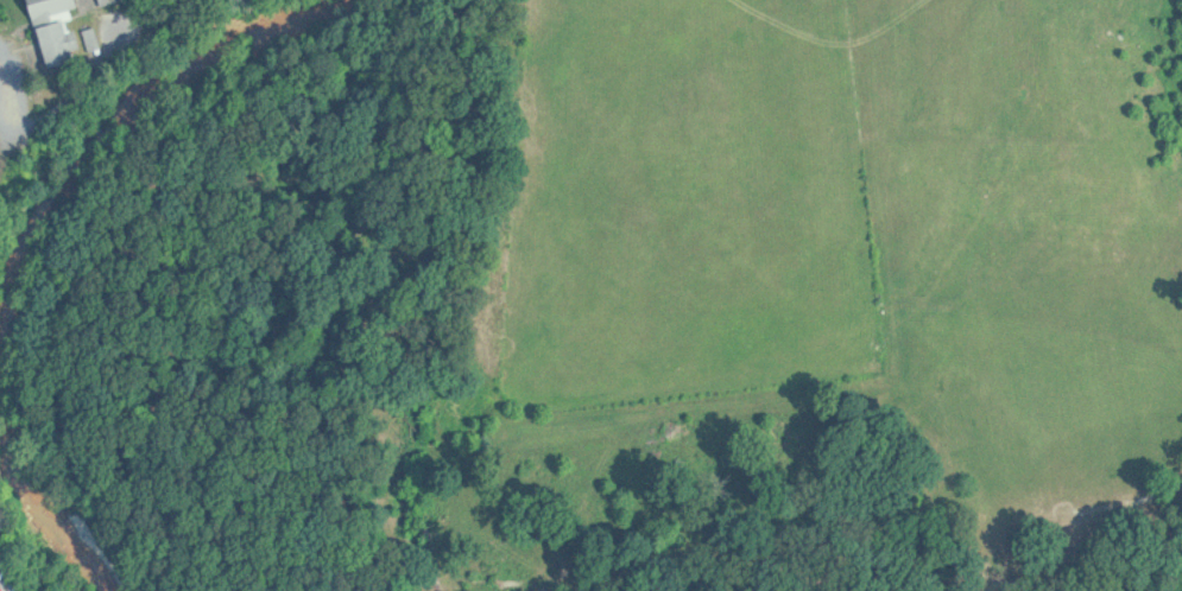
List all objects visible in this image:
building: (109, 1)
building: (59, 30)
river: (29, 239)

